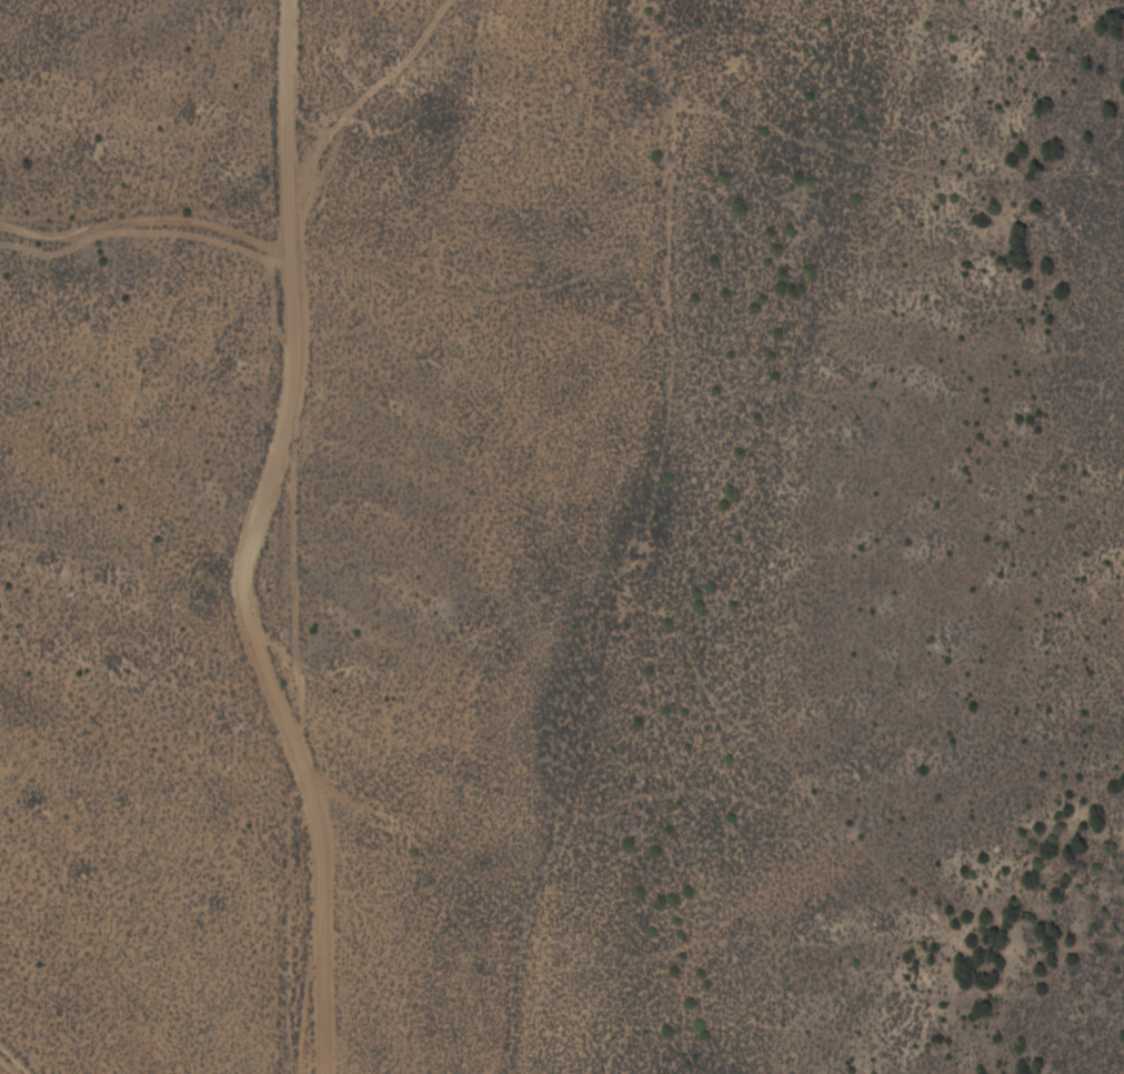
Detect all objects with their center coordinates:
road: (158, 212)
road: (289, 546)
road: (11, 1060)

